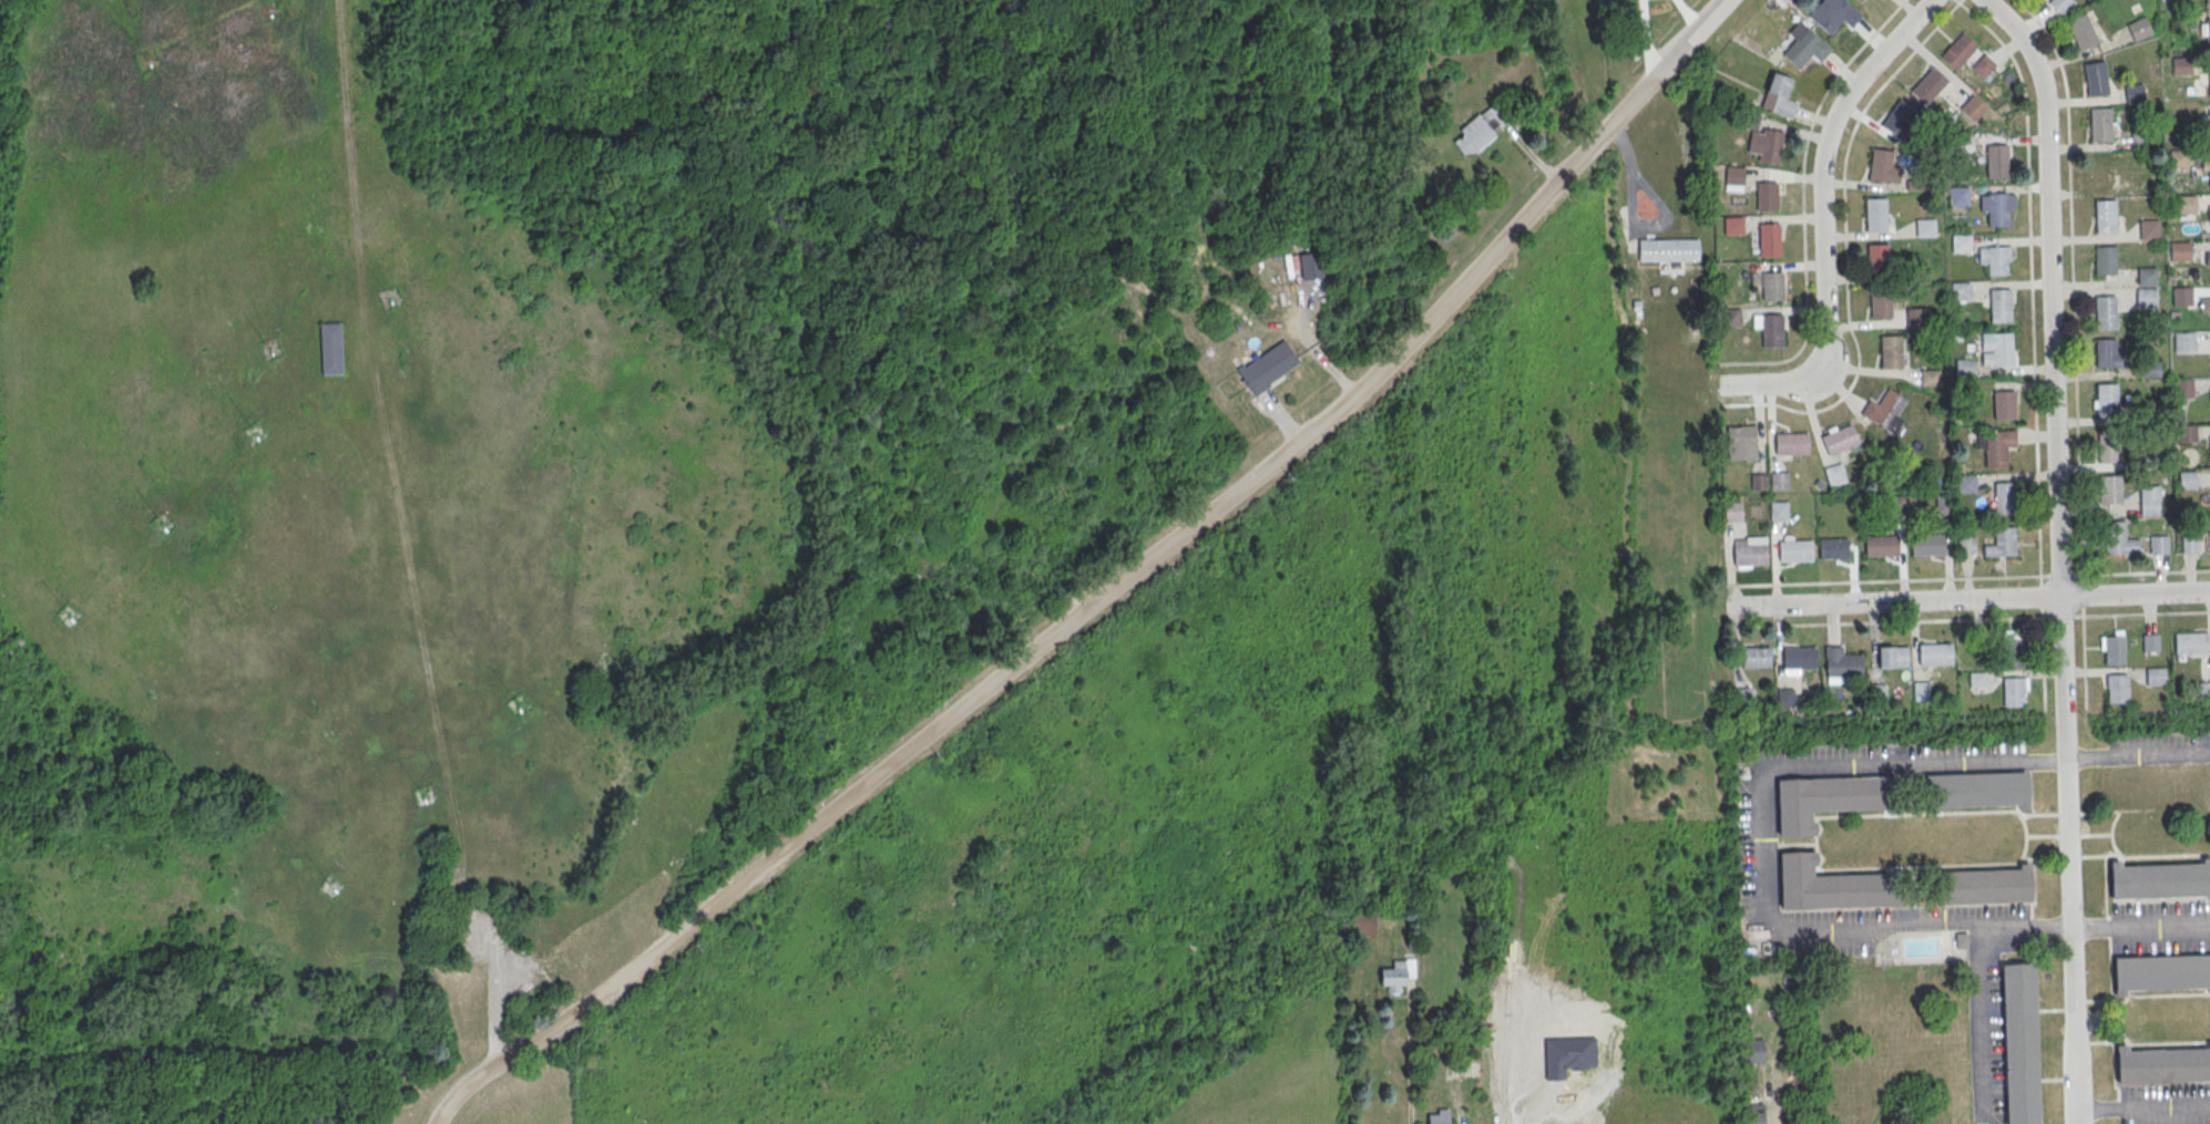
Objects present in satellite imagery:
building: (1859, 1)
building: (2207, 2)
building: (2060, 6)
building: (1832, 14)
building: (2138, 29)
building: (2081, 32)
building: (2207, 33)
road: (1873, 34)
building: (1804, 49)
building: (1956, 51)
building: (1983, 65)
building: (2181, 66)
building: (2095, 79)
building: (2209, 79)
building: (1927, 85)
building: (2134, 93)
building: (1777, 96)
building: (1972, 106)
building: (1897, 117)
building: (2100, 125)
building: (2209, 125)
building: (1482, 127)
building: (2139, 141)
road: (1849, 143)
building: (1764, 145)
building: (2177, 158)
building: (1996, 162)
building: (1882, 167)
building: (2101, 168)
building: (2209, 175)
building: (1733, 176)
building: (2146, 184)
building: (1767, 196)
building: (1957, 196)
building: (2185, 204)
building: (1996, 208)
building: (1875, 215)
building: (2105, 216)
building: (2209, 217)
road: (1824, 221)
building: (1732, 226)
building: (1924, 228)
building: (2148, 229)
building: (1769, 240)
building: (1961, 244)
building: (1667, 248)
road: (1803, 248)
building: (2179, 251)
building: (1876, 259)
building: (2104, 260)
building: (1996, 261)
building: (2208, 262)
building: (1310, 266)
building: (2146, 277)
road: (2030, 279)
road: (2071, 283)
building: (1772, 287)
building: (1960, 290)
building: (2181, 297)
building: (2146, 298)
building: (1879, 303)
building: (2204, 305)
building: (1998, 306)
building: (2105, 313)
building: (1730, 318)
building: (1915, 319)
building: (1770, 331)
building: (2183, 342)
building: (330, 350)
building: (2001, 350)
building: (1890, 352)
building: (2105, 354)
building: (1268, 365)
building: (1963, 368)
building: (2150, 369)
building: (1928, 379)
building: (2183, 389)
building: (2107, 401)
building: (2003, 406)
road: (1822, 410)
building: (1885, 412)
building: (2150, 414)
building: (2186, 434)
building: (1839, 440)
building: (1740, 443)
building: (1790, 444)
building: (2107, 445)
building: (2209, 446)
building: (1997, 448)
building: (2152, 461)
building: (1834, 475)
building: (2187, 479)
building: (1778, 481)
building: (1758, 482)
building: (1965, 483)
building: (2109, 489)
building: (2148, 498)
building: (2004, 499)
building: (1732, 509)
building: (1779, 509)
building: (2114, 535)
building: (2209, 539)
building: (2004, 540)
building: (1926, 543)
building: (2158, 543)
building: (1965, 544)
building: (1880, 545)
building: (1832, 547)
building: (1794, 549)
road: (2059, 551)
building: (1749, 554)
road: (2140, 570)
road: (2060, 574)
road: (1886, 579)
road: (1112, 586)
road: (2039, 594)
road: (2080, 595)
road: (1966, 597)
road: (2141, 611)
road: (2063, 613)
road: (1887, 619)
building: (2149, 642)
building: (2190, 642)
building: (2112, 648)
building: (1934, 652)
building: (2014, 652)
building: (1892, 656)
building: (1754, 657)
building: (1798, 657)
road: (2042, 657)
road: (2083, 657)
building: (1839, 664)
building: (2153, 676)
building: (1976, 679)
building: (2116, 687)
building: (1896, 689)
building: (1920, 689)
building: (2203, 689)
building: (2012, 691)
building: (1740, 693)
building: (1876, 693)
building: (1783, 695)
road: (2137, 751)
building: (1975, 790)
building: (1830, 798)
road: (1762, 846)
building: (2159, 879)
building: (1977, 885)
building: (1833, 886)
road: (2139, 922)
building: (2160, 972)
building: (1396, 975)
road: (1981, 1017)
building: (2018, 1043)
building: (1754, 1050)
building: (1567, 1054)
building: (2161, 1064)
road: (2142, 1107)
building: (1754, 1112)
road: (437, 1115)
building: (1437, 1117)

